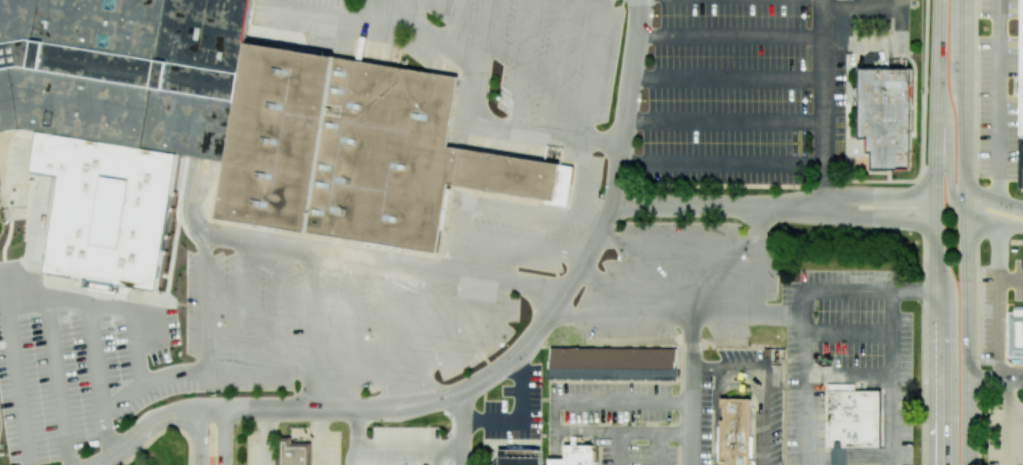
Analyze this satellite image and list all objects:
road: (308, 11)
road: (378, 11)
road: (418, 11)
parking lot: (304, 19)
road: (363, 19)
road: (453, 24)
road: (901, 30)
road: (434, 35)
road: (488, 36)
road: (346, 37)
road: (392, 37)
road: (732, 37)
road: (374, 41)
parking lot: (535, 53)
road: (524, 64)
road: (560, 67)
road: (596, 69)
road: (729, 77)
parking lot: (756, 86)
parking lot: (998, 89)
building: (1021, 96)
road: (999, 102)
road: (825, 103)
building: (122, 114)
building: (882, 118)
road: (725, 120)
road: (526, 130)
road: (949, 146)
building: (359, 150)
road: (722, 164)
parking lot: (592, 177)
road: (583, 178)
road: (879, 197)
road: (993, 202)
road: (718, 204)
road: (518, 207)
building: (1, 214)
road: (879, 218)
road: (995, 219)
road: (936, 232)
road: (967, 232)
parking lot: (509, 234)
road: (677, 240)
road: (525, 245)
road: (453, 252)
road: (361, 258)
road: (666, 279)
road: (1011, 279)
parking lot: (678, 284)
road: (543, 286)
road: (537, 300)
road: (205, 303)
road: (72, 305)
road: (242, 305)
road: (280, 308)
road: (313, 311)
road: (460, 312)
road: (805, 312)
road: (424, 315)
road: (710, 316)
road: (781, 317)
parking lot: (337, 326)
road: (847, 331)
road: (349, 332)
road: (534, 332)
road: (385, 334)
building: (1015, 334)
road: (480, 336)
road: (997, 345)
parking lot: (82, 352)
road: (95, 358)
building: (614, 363)
parking lot: (847, 369)
road: (247, 370)
road: (301, 370)
road: (739, 372)
building: (367, 374)
road: (848, 375)
road: (995, 376)
road: (173, 377)
road: (766, 378)
road: (891, 378)
road: (422, 381)
road: (57, 384)
road: (744, 386)
road: (314, 390)
road: (689, 390)
road: (301, 397)
road: (1015, 405)
parking lot: (512, 408)
road: (1015, 410)
road: (520, 413)
parking lot: (658, 414)
road: (552, 416)
building: (853, 417)
road: (1015, 420)
road: (463, 426)
road: (1015, 428)
road: (145, 429)
building: (736, 432)
road: (199, 436)
road: (224, 436)
road: (261, 436)
road: (318, 436)
road: (1015, 436)
road: (1015, 443)
parking lot: (394, 447)
road: (389, 448)
road: (617, 448)
road: (655, 448)
building: (292, 454)
road: (348, 455)
building: (519, 455)
building: (575, 455)
road: (433, 456)
building: (839, 456)

